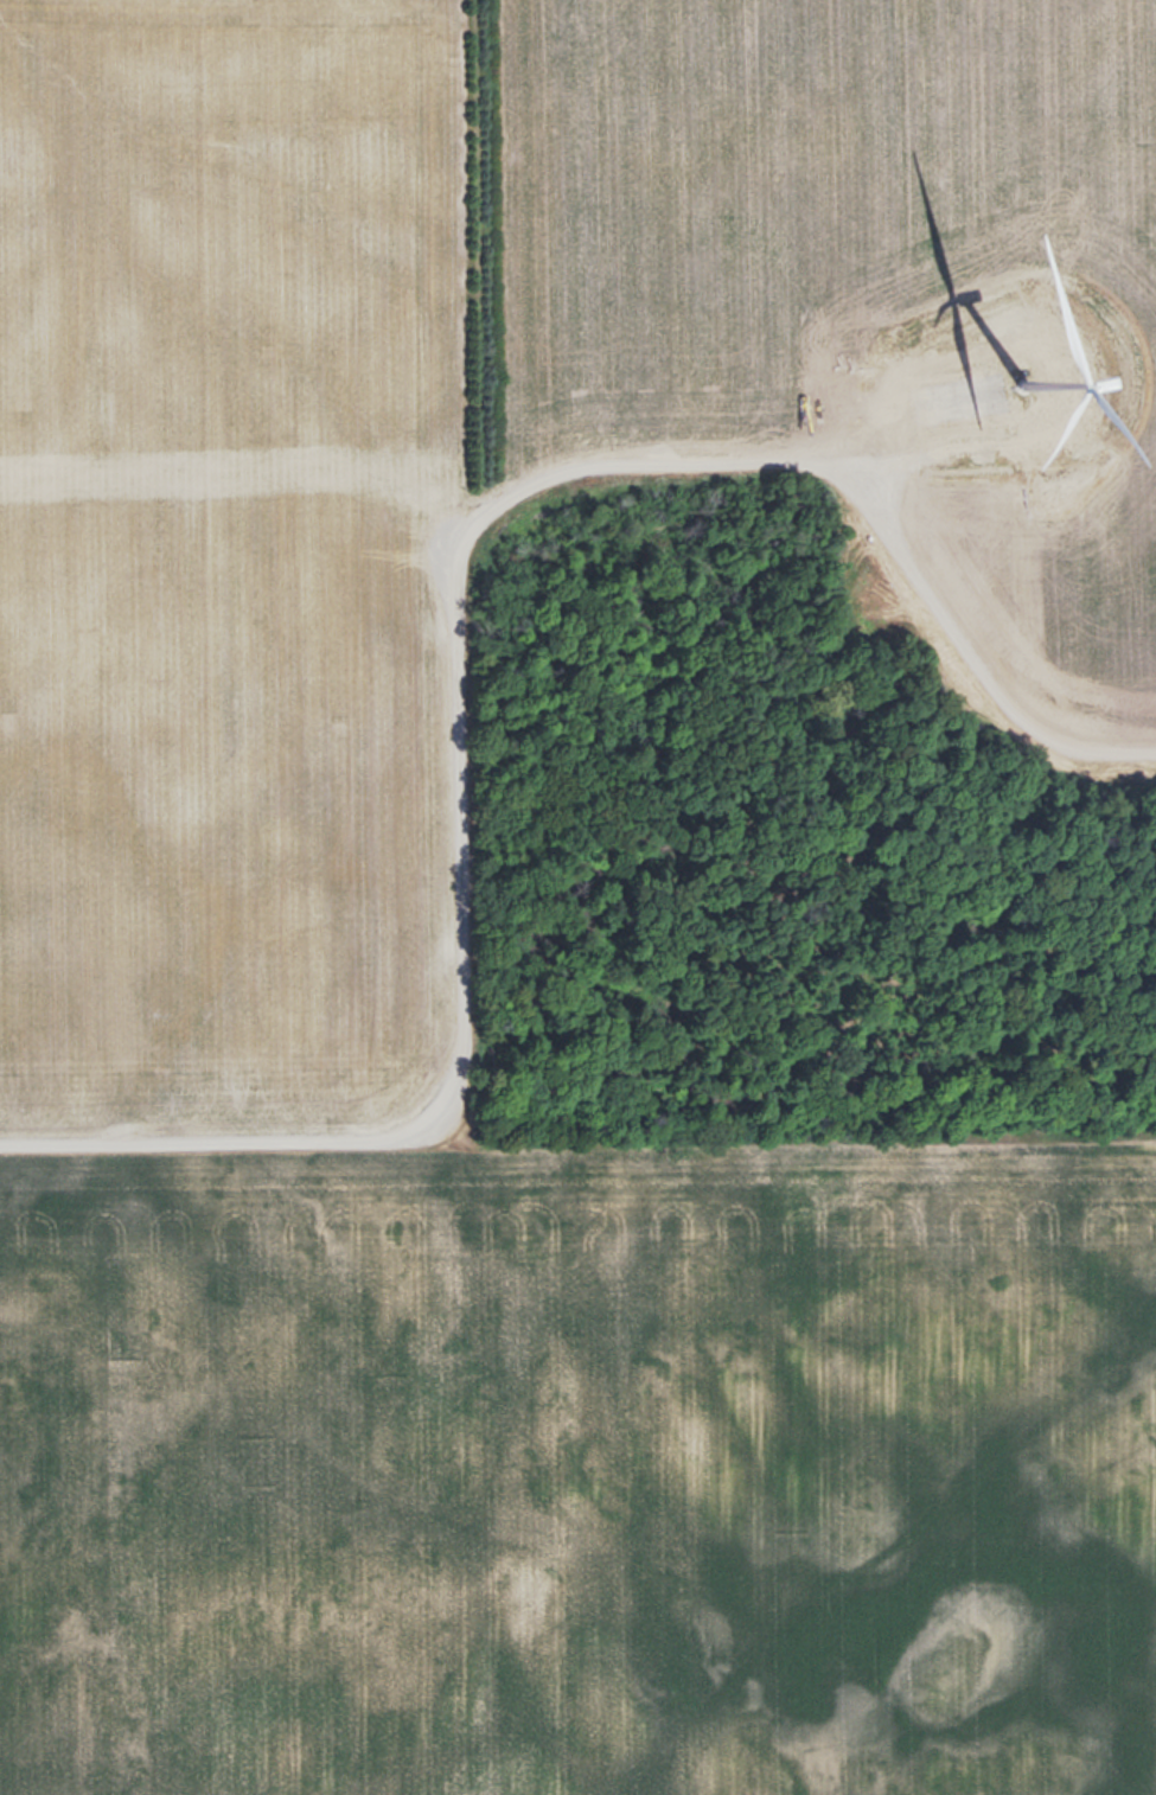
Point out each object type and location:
wind turbine: (1029, 389)

